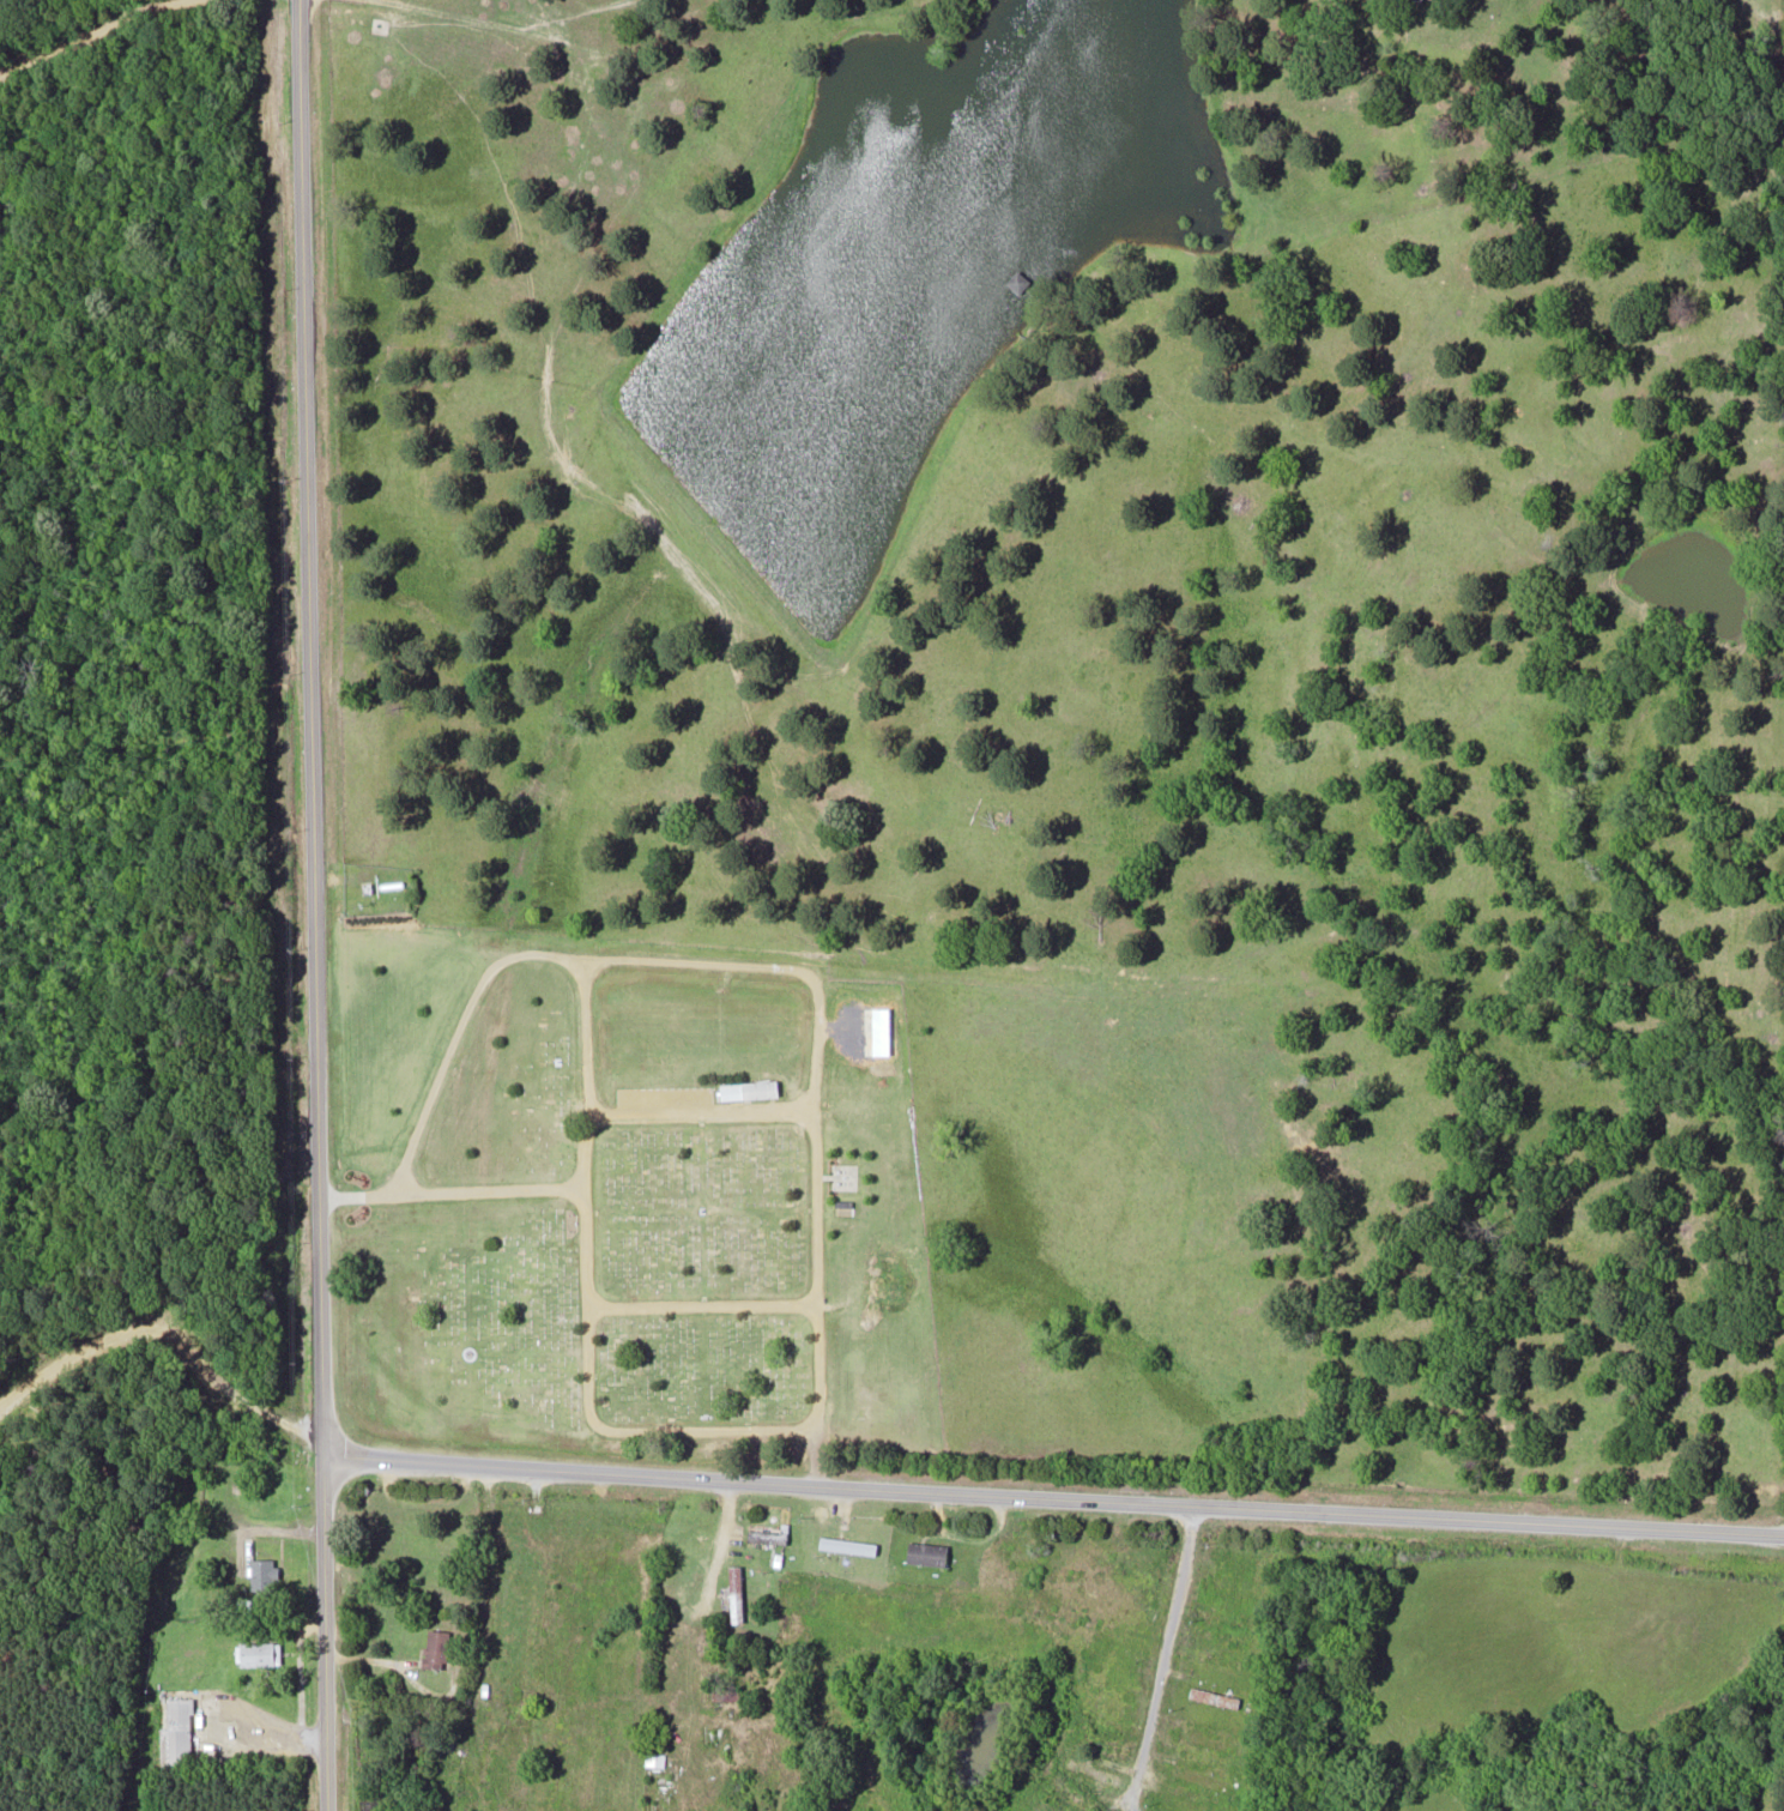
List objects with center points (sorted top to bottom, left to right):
building: (377, 24)
road: (83, 32)
road: (542, 40)
building: (1017, 279)
road: (313, 905)
road: (775, 966)
road: (464, 1027)
road: (594, 1070)
building: (754, 1085)
road: (822, 1157)
road: (455, 1188)
building: (841, 1206)
park: (655, 1212)
road: (708, 1299)
road: (613, 1423)
road: (1051, 1496)
building: (764, 1534)
building: (846, 1545)
building: (925, 1553)
building: (261, 1572)
building: (1229, 1583)
building: (734, 1593)
building: (1127, 1640)
building: (435, 1648)
building: (258, 1652)
road: (1161, 1658)
building: (727, 1692)
building: (1214, 1696)
building: (174, 1729)
building: (1208, 1740)
building: (1091, 1771)
building: (1198, 1776)
building: (1183, 1804)

